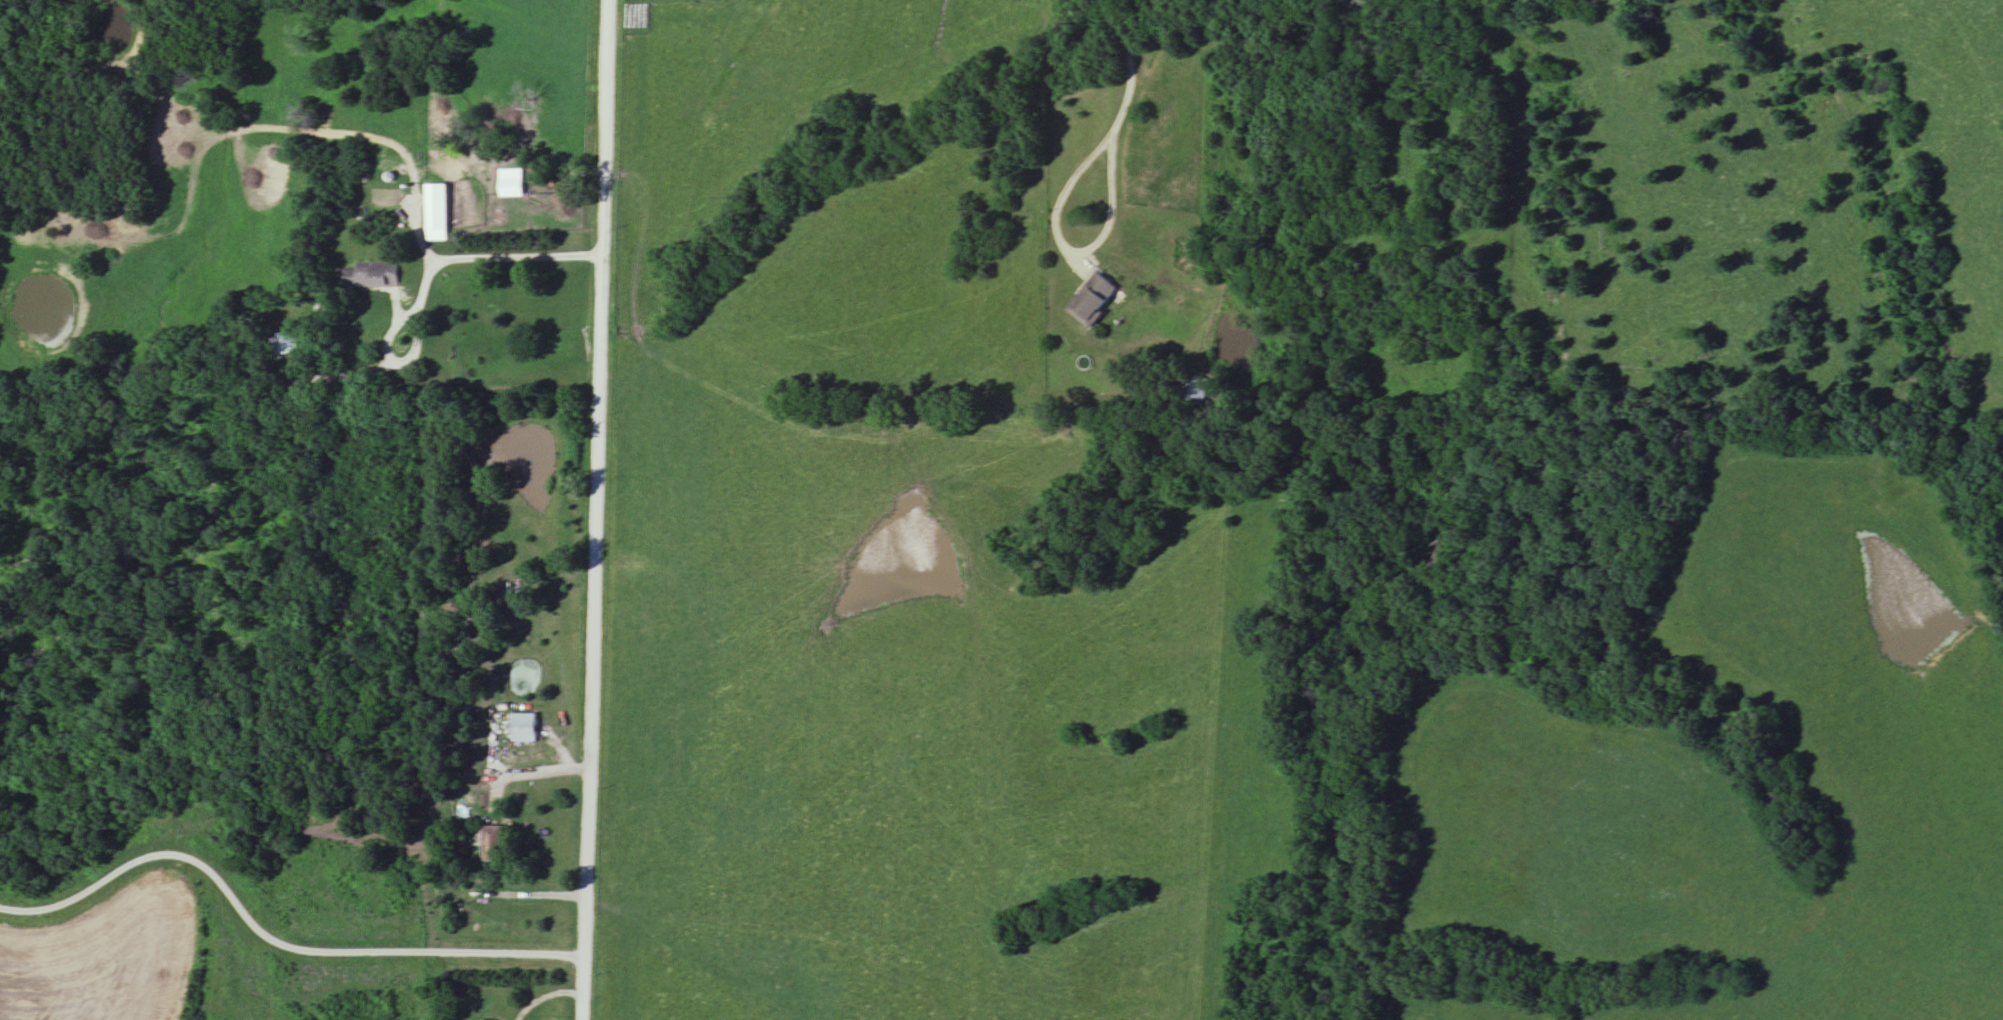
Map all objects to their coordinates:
road: (1128, 73)
building: (437, 213)
road: (1060, 244)
road: (491, 258)
building: (371, 277)
building: (1092, 301)
building: (286, 345)
road: (413, 347)
building: (1195, 392)
road: (593, 510)
building: (524, 729)
road: (487, 830)
building: (491, 845)
road: (269, 936)

